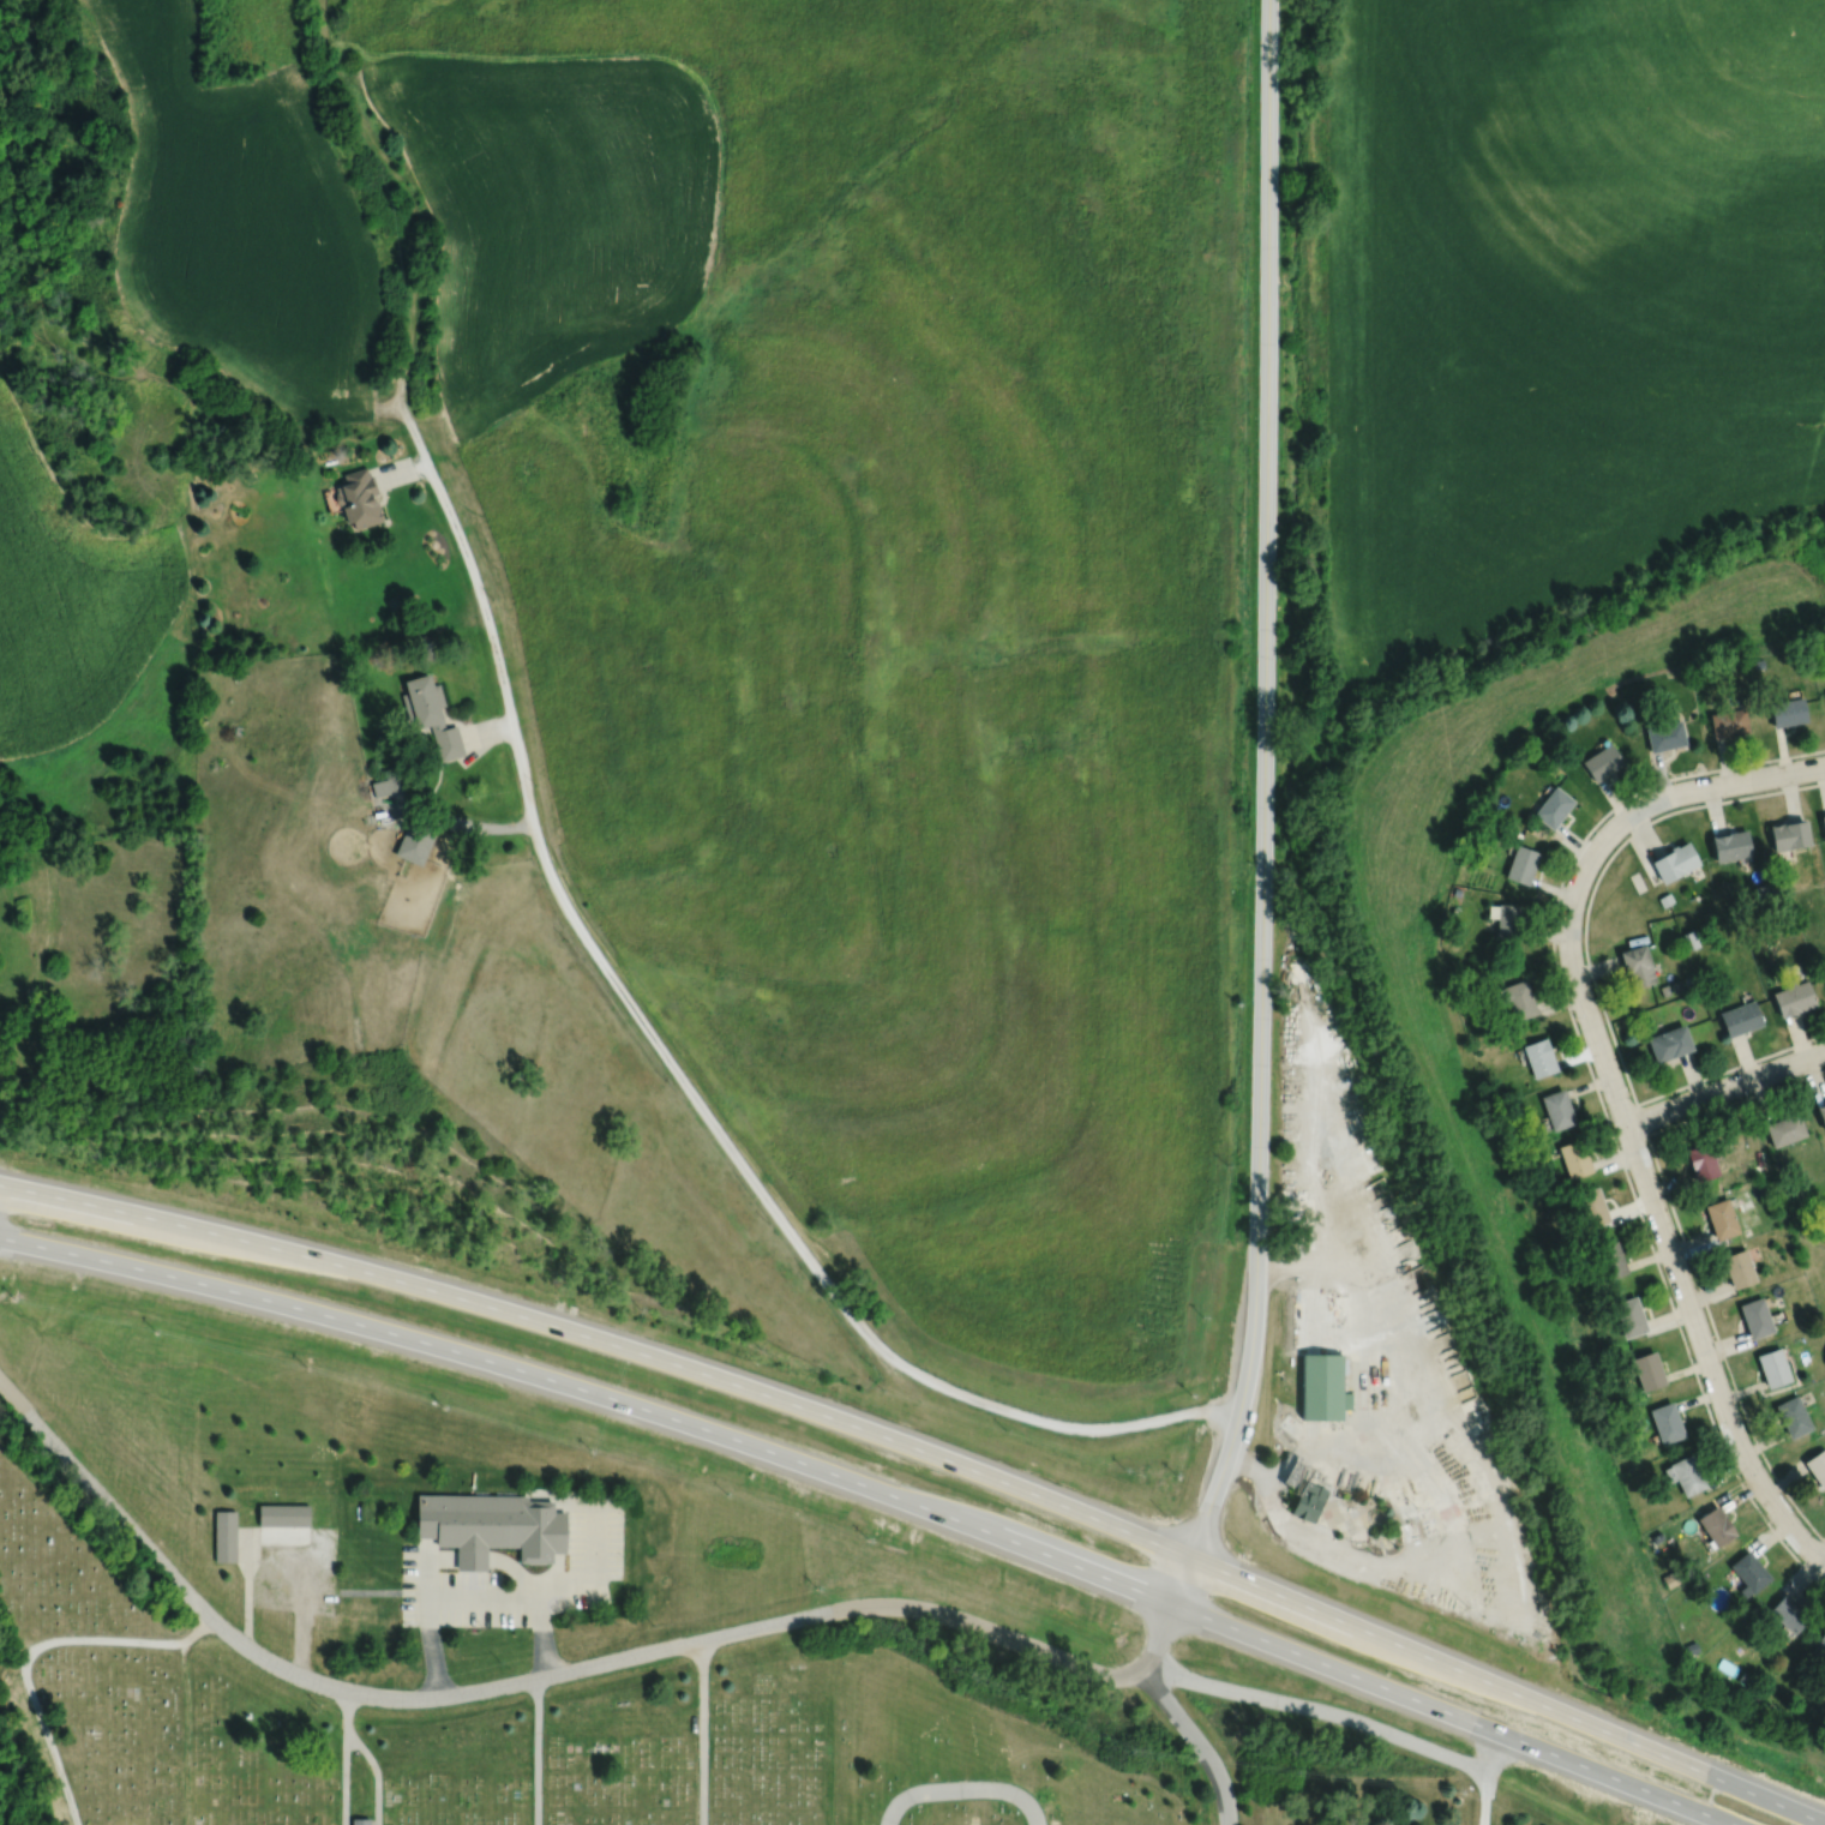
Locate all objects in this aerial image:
road: (409, 202)
building: (358, 498)
building: (422, 702)
building: (1787, 712)
building: (1727, 722)
building: (1664, 736)
building: (446, 743)
building: (1601, 763)
road: (1819, 769)
building: (386, 786)
road: (1262, 808)
building: (1553, 808)
building: (1823, 823)
building: (1789, 835)
building: (416, 842)
building: (1730, 846)
building: (1674, 862)
building: (1520, 864)
road: (1583, 872)
building: (1637, 966)
building: (1824, 974)
building: (1793, 998)
building: (1519, 999)
building: (1739, 1017)
building: (1669, 1043)
building: (1538, 1057)
road: (680, 1077)
road: (1728, 1089)
building: (1556, 1109)
building: (1821, 1113)
building: (1784, 1129)
building: (1573, 1158)
building: (1701, 1163)
building: (1591, 1207)
building: (1721, 1218)
building: (1611, 1259)
building: (1737, 1268)
building: (1628, 1316)
building: (1755, 1317)
road: (604, 1340)
road: (1705, 1353)
building: (1772, 1367)
building: (1647, 1370)
road: (1387, 1377)
building: (1322, 1388)
road: (594, 1392)
road: (11, 1398)
building: (1793, 1416)
building: (1665, 1422)
building: (1817, 1467)
building: (1685, 1475)
road: (559, 1502)
building: (1308, 1502)
building: (283, 1515)
building: (1716, 1525)
building: (492, 1526)
road: (559, 1532)
road: (292, 1535)
building: (224, 1536)
road: (442, 1559)
road: (472, 1559)
parking lot: (595, 1560)
road: (559, 1569)
parking lot: (325, 1572)
building: (1748, 1573)
road: (578, 1579)
road: (367, 1591)
road: (538, 1603)
building: (1787, 1614)
road: (427, 1625)
building: (1820, 1644)
road: (31, 1647)
road: (536, 1676)
road: (1506, 1691)
road: (1173, 1712)
road: (1451, 1713)
road: (1341, 1716)
park: (512, 1729)
road: (702, 1731)
road: (536, 1751)
road: (1493, 1754)
road: (344, 1758)
road: (376, 1770)
road: (961, 1790)
building: (360, 1820)

